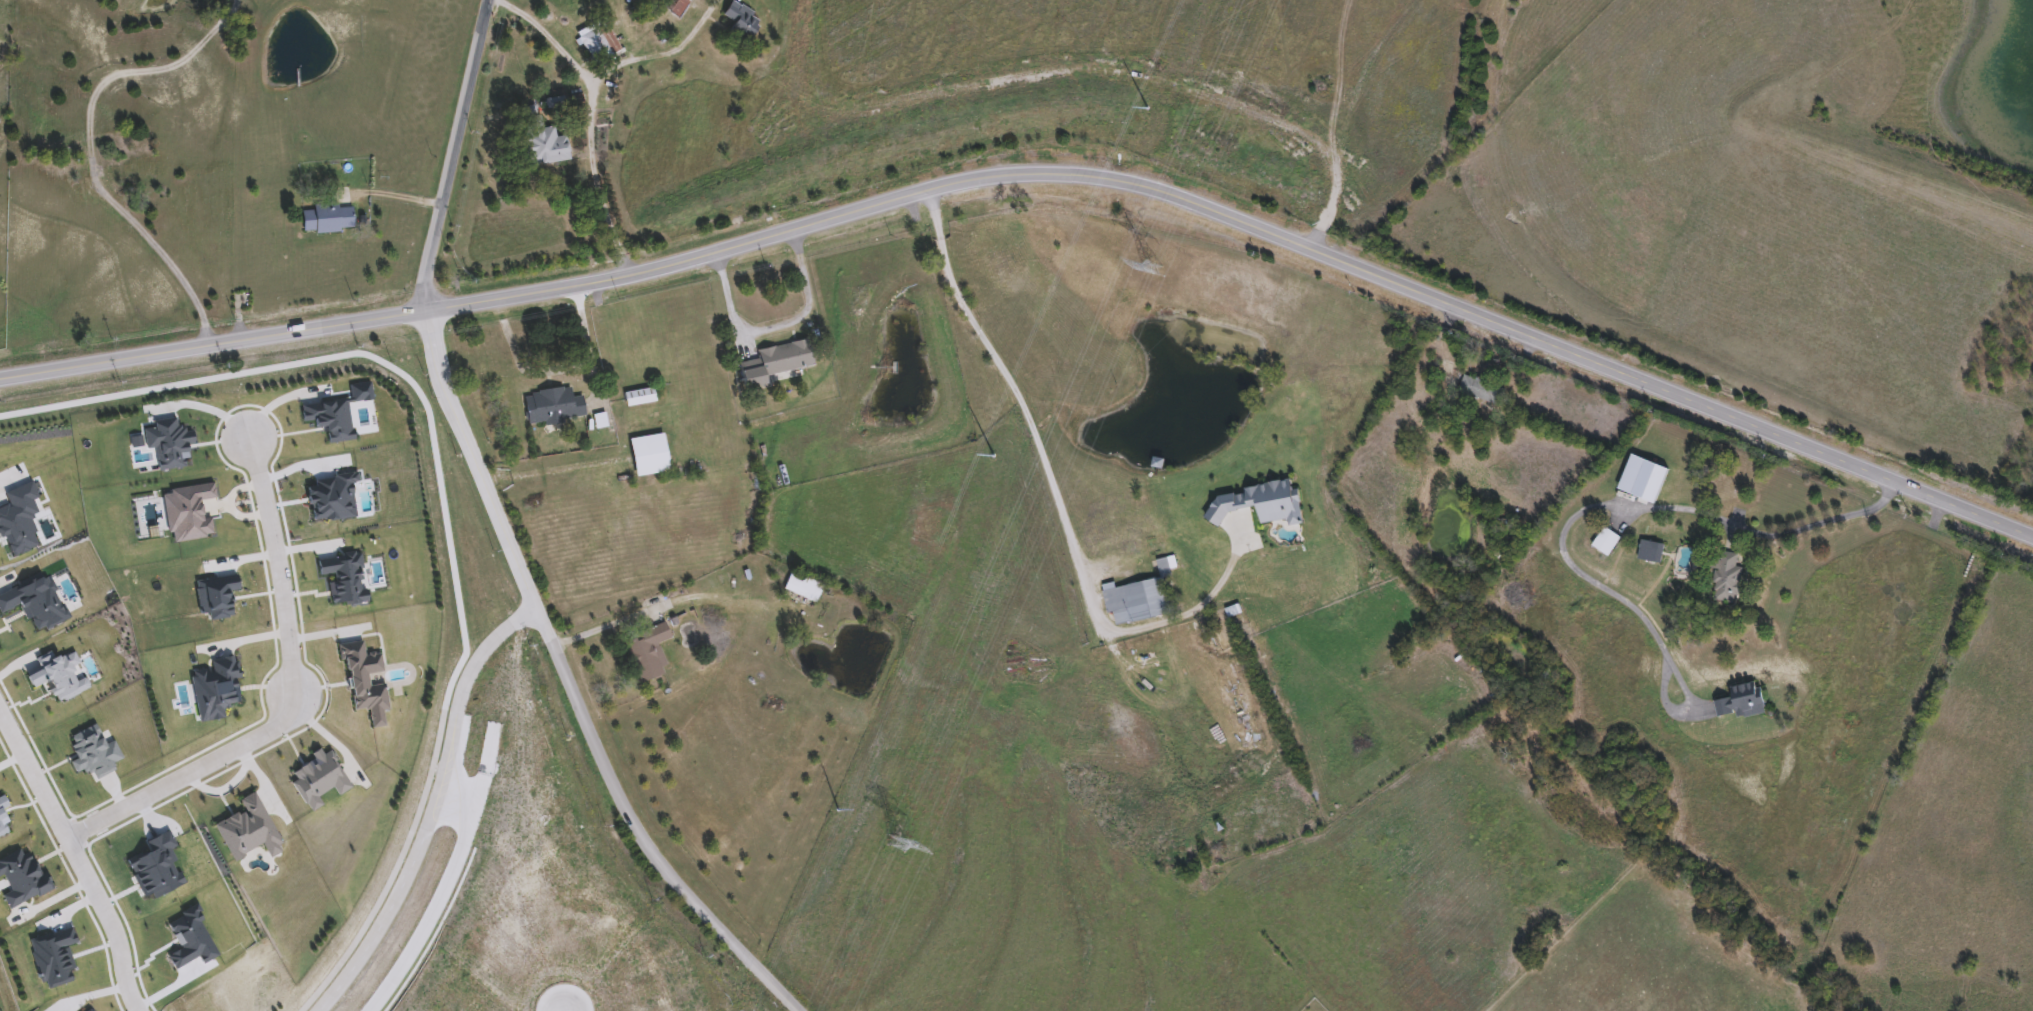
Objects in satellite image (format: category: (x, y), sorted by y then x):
building: (740, 20)
building: (598, 45)
road: (661, 53)
road: (591, 114)
power tower: (1146, 121)
building: (540, 141)
road: (457, 155)
road: (1039, 171)
road: (395, 191)
building: (326, 220)
power tower: (1148, 269)
building: (241, 301)
road: (775, 323)
road: (585, 341)
road: (522, 362)
building: (777, 363)
building: (1482, 390)
building: (638, 397)
road: (279, 399)
building: (551, 407)
building: (648, 455)
power tower: (993, 467)
road: (1054, 488)
road: (1613, 501)
building: (1606, 543)
building: (1727, 579)
building: (803, 588)
building: (1139, 600)
road: (608, 622)
building: (648, 653)
road: (573, 685)
road: (294, 694)
road: (438, 807)
power tower: (837, 819)
power tower: (892, 844)
road: (80, 853)
road: (439, 899)

